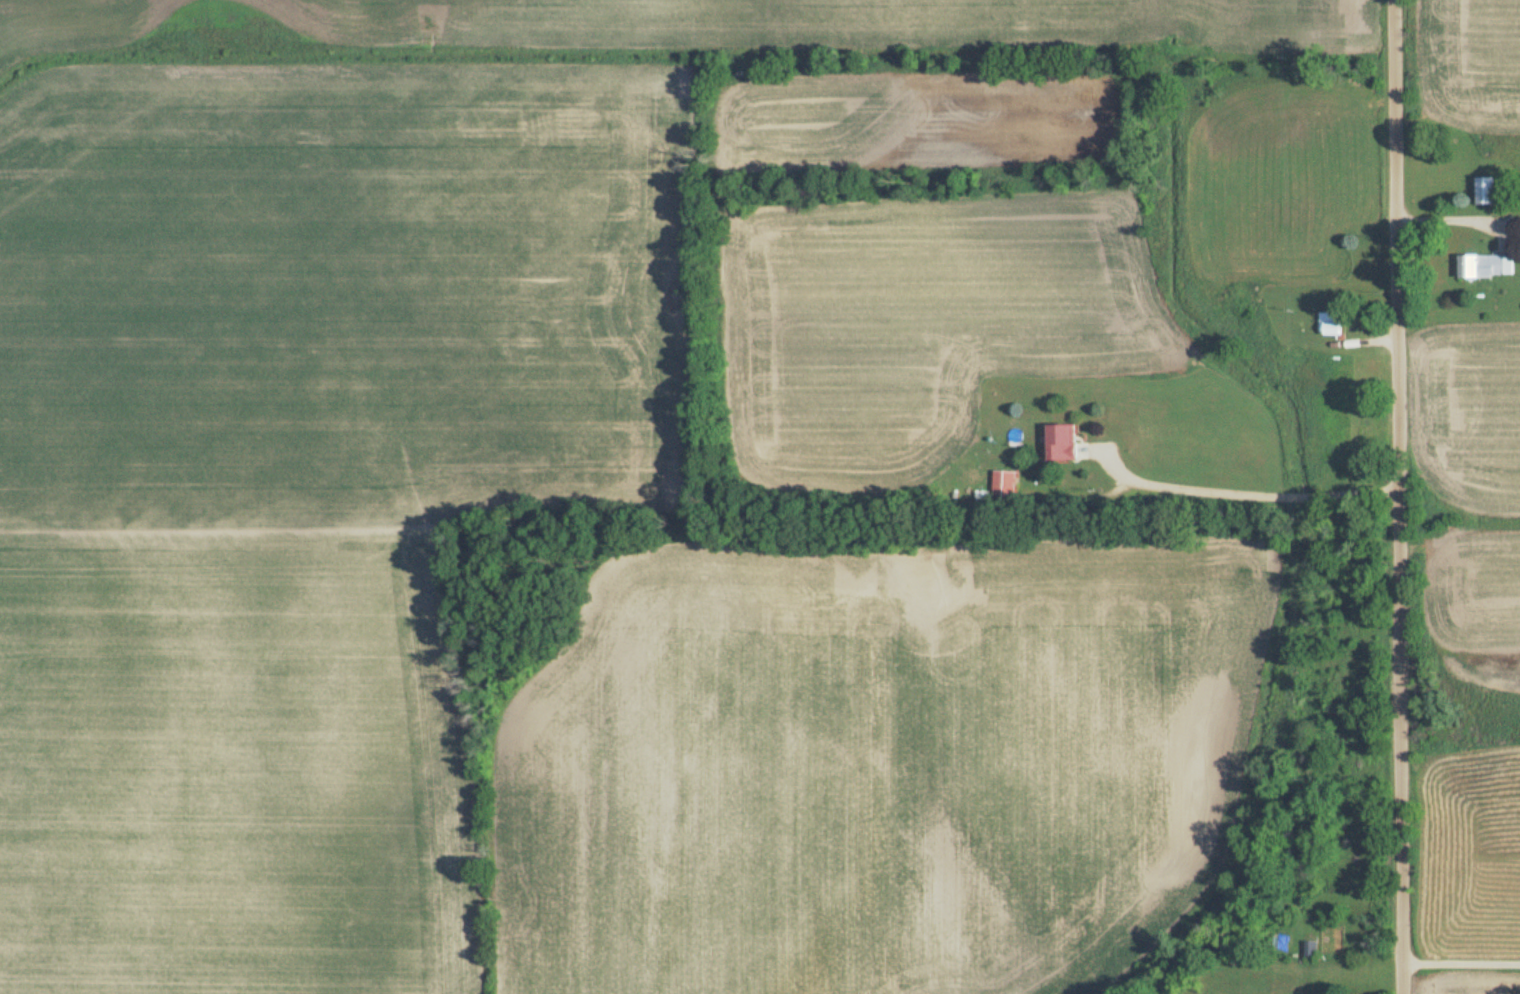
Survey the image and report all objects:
building: (1488, 192)
building: (1487, 267)
building: (1331, 324)
building: (1064, 443)
building: (1005, 486)
road: (1240, 494)
road: (1398, 497)
building: (1310, 950)
road: (1461, 964)

